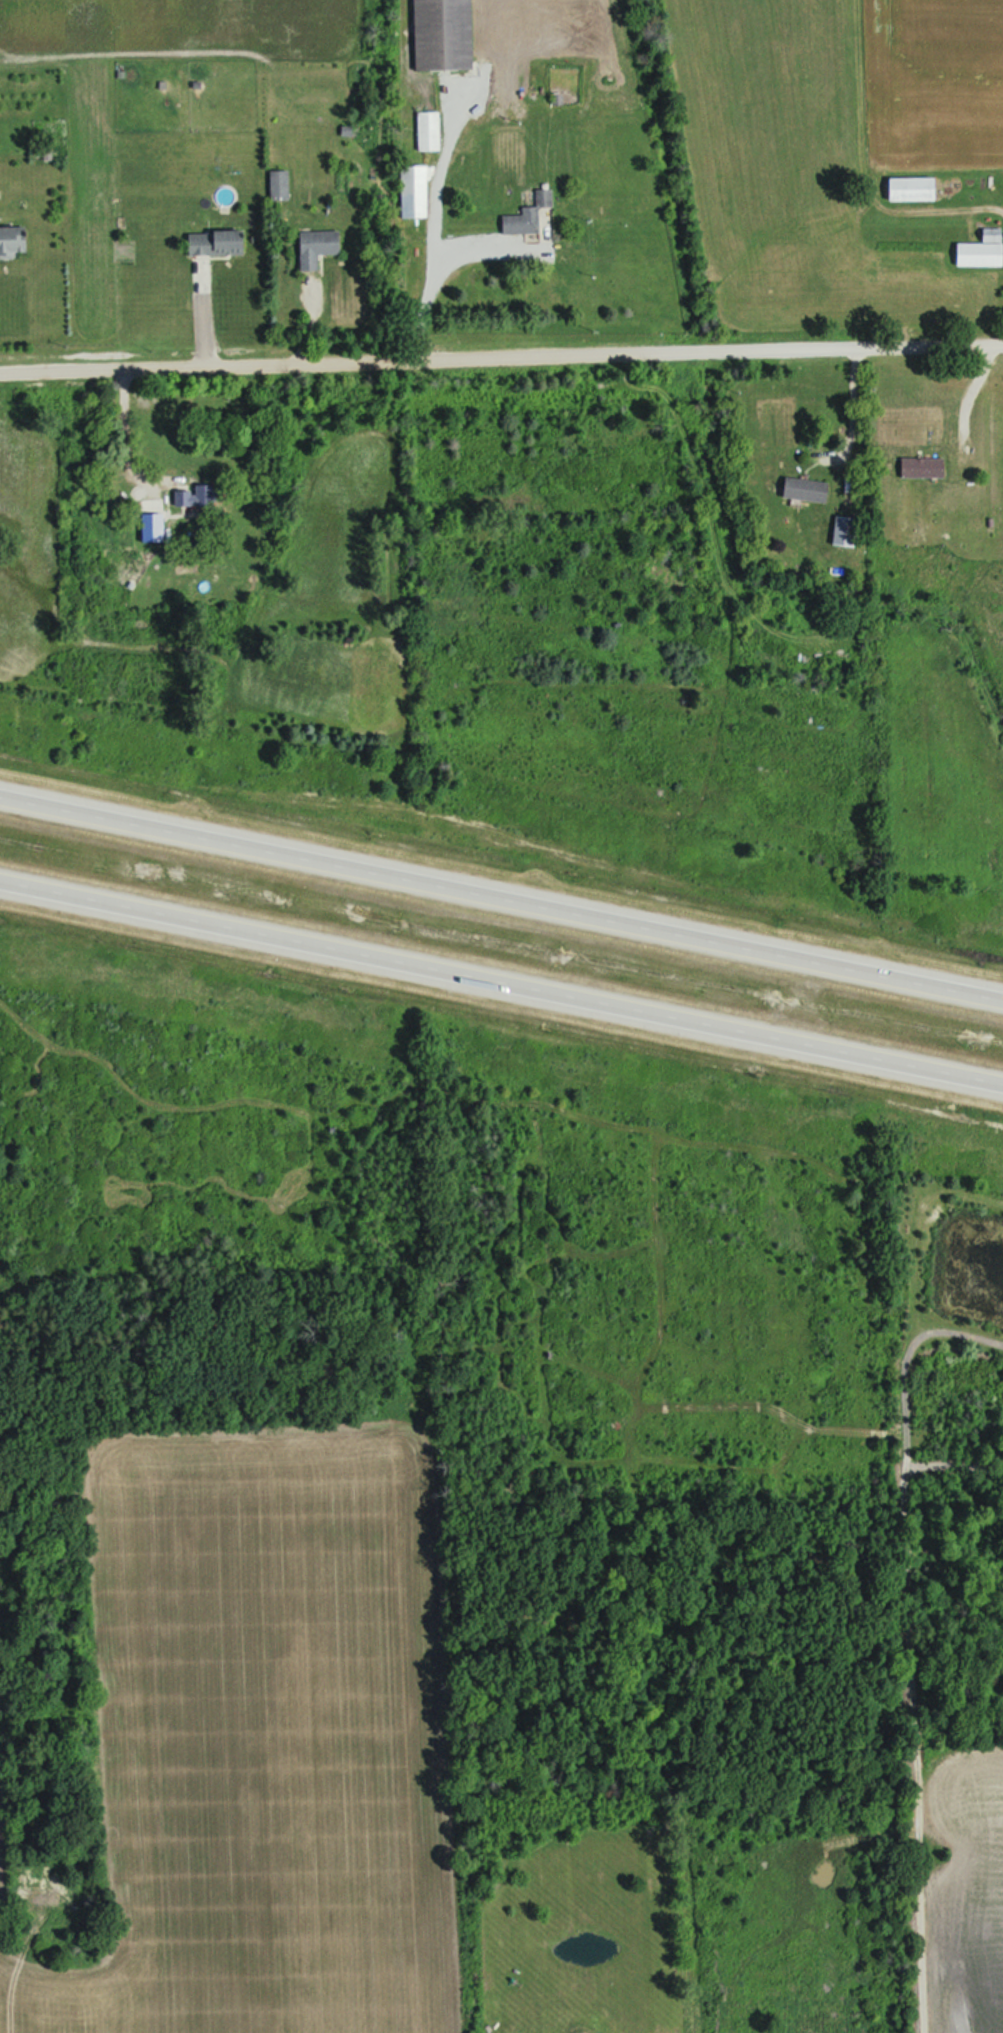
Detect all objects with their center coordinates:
building: (444, 34)
building: (430, 129)
building: (915, 187)
building: (416, 189)
road: (953, 207)
building: (529, 214)
building: (14, 240)
building: (219, 241)
building: (319, 245)
building: (982, 250)
road: (440, 274)
road: (501, 355)
road: (976, 393)
road: (857, 403)
road: (121, 434)
building: (925, 466)
building: (808, 488)
building: (194, 494)
building: (847, 529)
road: (501, 893)
road: (501, 978)

